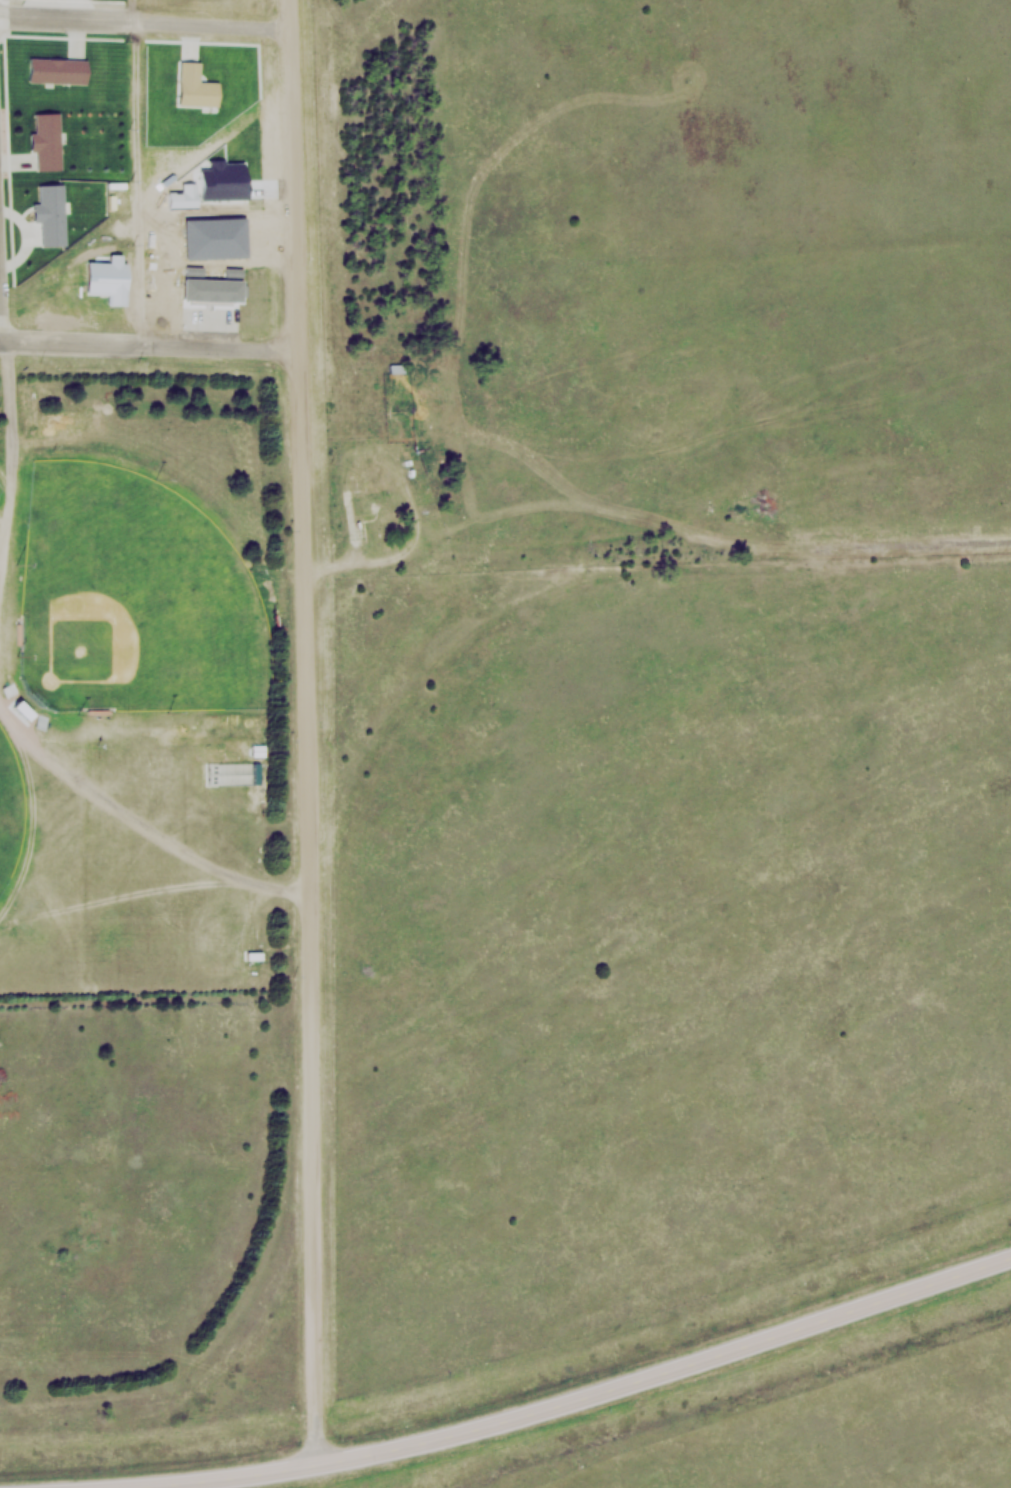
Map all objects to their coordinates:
road: (146, 22)
road: (130, 170)
road: (150, 342)
building: (397, 367)
park: (2, 488)
park: (137, 598)
road: (310, 733)
building: (235, 773)
park: (10, 806)
road: (140, 820)
road: (605, 1393)

